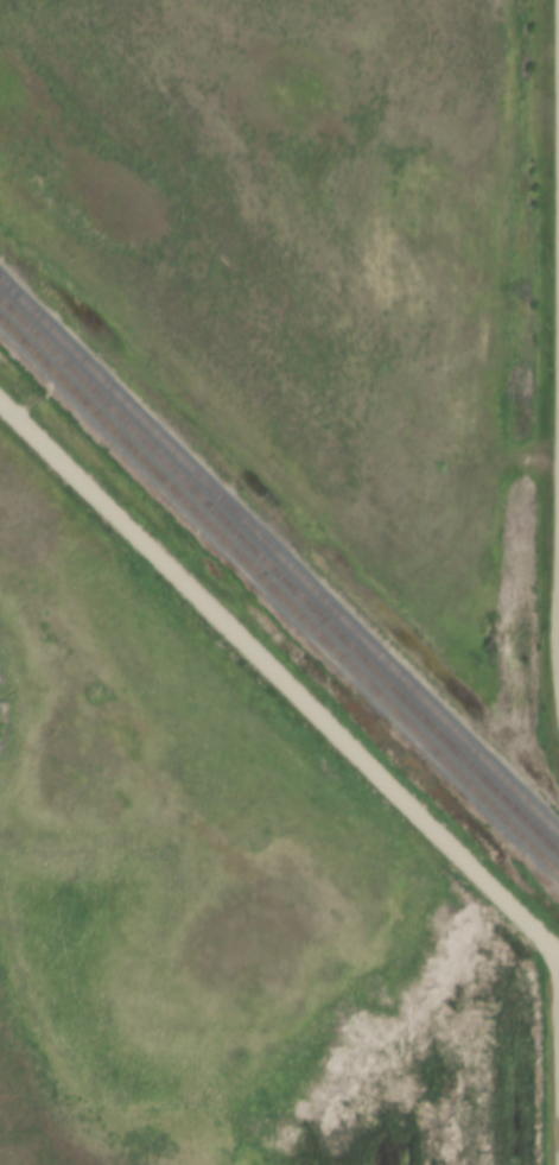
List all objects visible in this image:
railway: (279, 553)
railway: (279, 576)
railway: (279, 593)
road: (279, 677)
road: (555, 1052)

